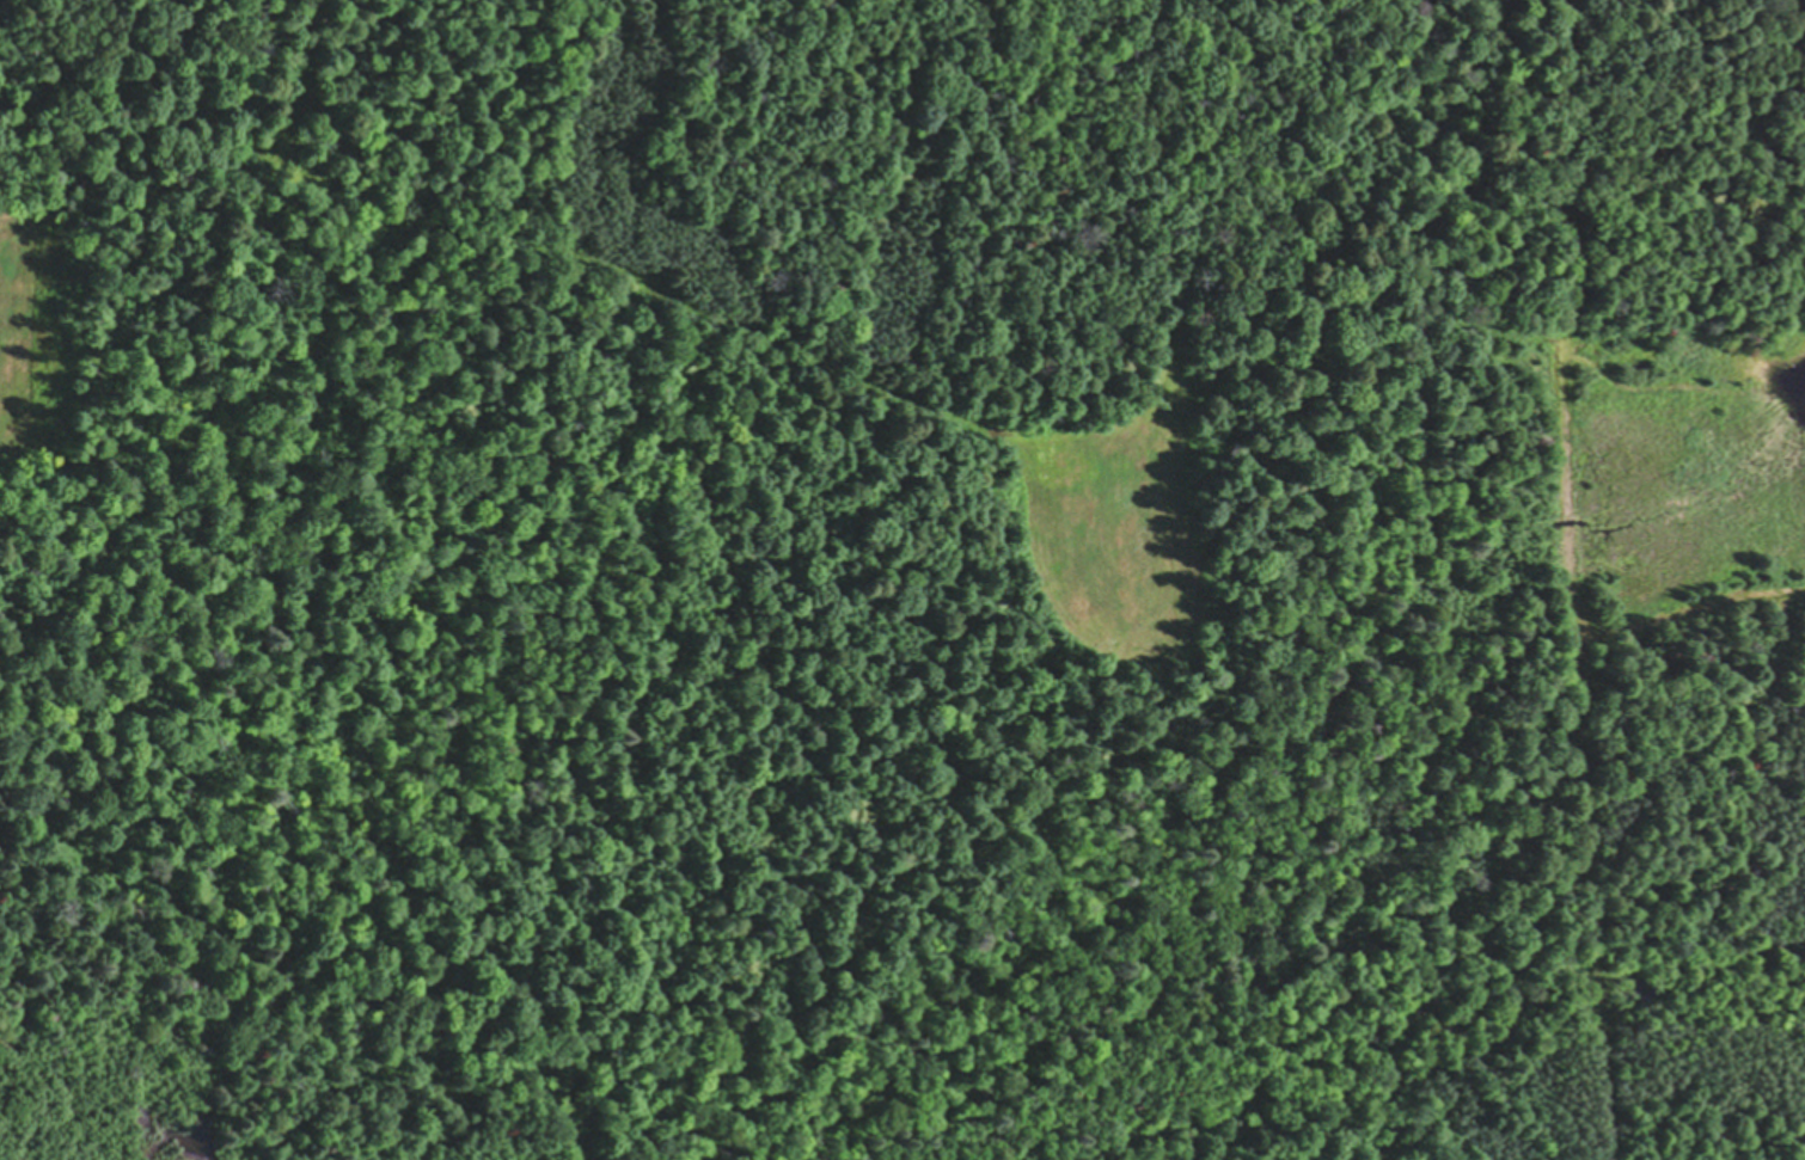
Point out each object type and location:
road: (1572, 579)

